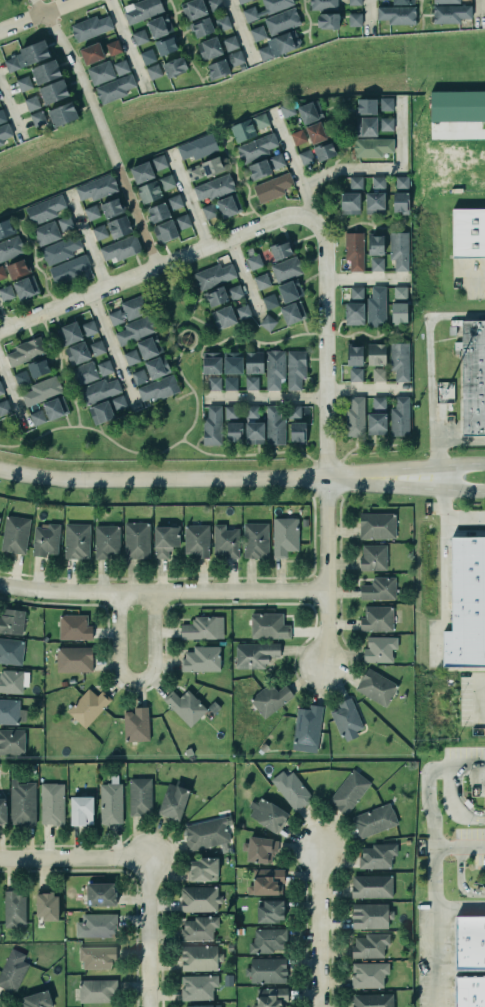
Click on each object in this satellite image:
building: (240, 1)
building: (444, 1)
building: (354, 2)
building: (403, 2)
building: (214, 4)
building: (323, 5)
building: (263, 8)
building: (141, 9)
building: (193, 9)
building: (449, 12)
road: (477, 12)
building: (395, 13)
road: (419, 14)
road: (367, 15)
road: (38, 16)
building: (280, 19)
building: (326, 19)
building: (354, 19)
road: (308, 20)
building: (222, 23)
building: (89, 26)
building: (159, 26)
building: (202, 28)
road: (239, 31)
building: (257, 33)
building: (139, 36)
building: (285, 40)
building: (228, 41)
road: (184, 42)
road: (126, 45)
building: (166, 45)
building: (207, 46)
building: (113, 47)
building: (34, 52)
building: (265, 52)
building: (91, 53)
building: (147, 56)
building: (11, 64)
building: (222, 65)
building: (121, 67)
building: (175, 67)
building: (44, 69)
building: (99, 71)
building: (153, 71)
building: (22, 82)
building: (113, 87)
building: (53, 91)
building: (32, 103)
building: (386, 103)
building: (365, 106)
building: (457, 106)
building: (287, 109)
building: (61, 112)
building: (310, 112)
road: (9, 113)
building: (2, 117)
building: (37, 118)
building: (261, 120)
building: (386, 123)
building: (365, 125)
road: (101, 128)
building: (242, 130)
building: (317, 131)
building: (4, 133)
building: (298, 137)
building: (371, 145)
building: (255, 146)
building: (197, 147)
building: (325, 151)
building: (306, 157)
building: (277, 161)
building: (159, 162)
road: (333, 162)
road: (290, 163)
building: (205, 169)
building: (259, 169)
building: (139, 170)
road: (385, 170)
road: (238, 181)
building: (166, 182)
building: (378, 182)
building: (401, 182)
building: (356, 183)
building: (271, 185)
building: (213, 186)
building: (97, 188)
building: (149, 192)
road: (186, 199)
building: (373, 201)
building: (399, 201)
building: (174, 202)
building: (349, 203)
building: (229, 205)
building: (111, 208)
building: (44, 209)
building: (209, 210)
building: (156, 211)
building: (91, 212)
building: (182, 221)
building: (65, 223)
road: (364, 224)
building: (119, 227)
building: (6, 228)
building: (163, 230)
building: (44, 231)
building: (99, 232)
building: (467, 232)
road: (85, 239)
building: (373, 243)
building: (119, 247)
building: (10, 248)
building: (60, 250)
building: (281, 250)
building: (354, 250)
building: (399, 250)
building: (254, 261)
road: (34, 264)
building: (377, 264)
road: (154, 266)
building: (285, 267)
building: (17, 269)
building: (68, 269)
building: (2, 272)
road: (242, 275)
road: (474, 275)
road: (365, 279)
building: (261, 281)
building: (25, 287)
building: (290, 290)
building: (233, 291)
building: (6, 292)
building: (214, 294)
building: (269, 301)
building: (399, 304)
building: (353, 305)
building: (374, 306)
building: (126, 309)
building: (243, 312)
building: (292, 312)
building: (221, 315)
road: (181, 322)
building: (267, 322)
road: (180, 326)
road: (1, 327)
building: (89, 328)
building: (133, 328)
road: (184, 330)
building: (67, 332)
road: (293, 335)
building: (97, 347)
building: (149, 347)
road: (111, 349)
building: (24, 350)
building: (77, 353)
building: (353, 354)
building: (376, 354)
building: (131, 357)
building: (398, 359)
building: (232, 362)
building: (254, 362)
building: (211, 363)
building: (155, 365)
road: (428, 365)
building: (104, 367)
building: (38, 368)
road: (59, 369)
building: (274, 369)
building: (295, 369)
building: (83, 371)
building: (378, 374)
building: (355, 375)
building: (472, 376)
building: (139, 377)
building: (21, 378)
building: (214, 383)
building: (230, 383)
building: (251, 383)
road: (365, 388)
building: (0, 389)
building: (157, 389)
building: (42, 390)
building: (99, 390)
road: (193, 393)
road: (13, 397)
road: (263, 399)
building: (118, 402)
building: (4, 407)
building: (55, 408)
building: (100, 412)
building: (231, 412)
building: (251, 412)
building: (294, 412)
building: (375, 415)
building: (37, 417)
building: (400, 417)
building: (355, 418)
building: (272, 424)
building: (212, 426)
building: (252, 431)
building: (234, 432)
building: (297, 432)
road: (325, 438)
road: (460, 438)
road: (359, 445)
road: (164, 449)
road: (426, 468)
road: (183, 478)
road: (426, 488)
road: (453, 514)
building: (377, 525)
building: (13, 532)
building: (284, 536)
building: (44, 539)
building: (104, 539)
building: (135, 539)
building: (164, 539)
building: (196, 540)
building: (255, 540)
building: (76, 541)
building: (225, 542)
building: (373, 557)
building: (377, 588)
road: (160, 590)
building: (465, 603)
building: (375, 617)
building: (12, 621)
building: (267, 625)
building: (73, 626)
building: (202, 627)
building: (379, 649)
building: (11, 651)
building: (253, 653)
building: (200, 658)
building: (74, 659)
building: (11, 681)
road: (132, 684)
building: (376, 687)
road: (480, 698)
building: (271, 699)
building: (185, 706)
building: (88, 707)
building: (11, 712)
building: (346, 719)
building: (135, 723)
building: (305, 727)
building: (11, 742)
building: (289, 788)
building: (482, 789)
building: (347, 790)
building: (484, 795)
building: (140, 796)
road: (458, 798)
building: (21, 802)
building: (110, 802)
building: (173, 802)
building: (52, 803)
road: (448, 808)
building: (81, 810)
building: (2, 811)
building: (267, 814)
building: (374, 820)
building: (205, 832)
road: (458, 847)
building: (260, 849)
road: (72, 855)
building: (376, 855)
road: (432, 858)
building: (203, 869)
building: (265, 880)
road: (458, 881)
building: (372, 886)
building: (99, 893)
building: (198, 898)
building: (46, 906)
building: (14, 909)
road: (458, 909)
building: (270, 910)
building: (369, 914)
road: (317, 924)
building: (97, 925)
building: (199, 928)
road: (145, 931)
building: (268, 940)
building: (469, 943)
building: (370, 945)
building: (97, 957)
building: (200, 958)
building: (265, 969)
building: (12, 970)
building: (367, 973)
road: (442, 981)
building: (198, 987)
building: (96, 991)
building: (469, 991)
building: (271, 997)
building: (36, 1000)
building: (373, 1000)
building: (202, 1005)

